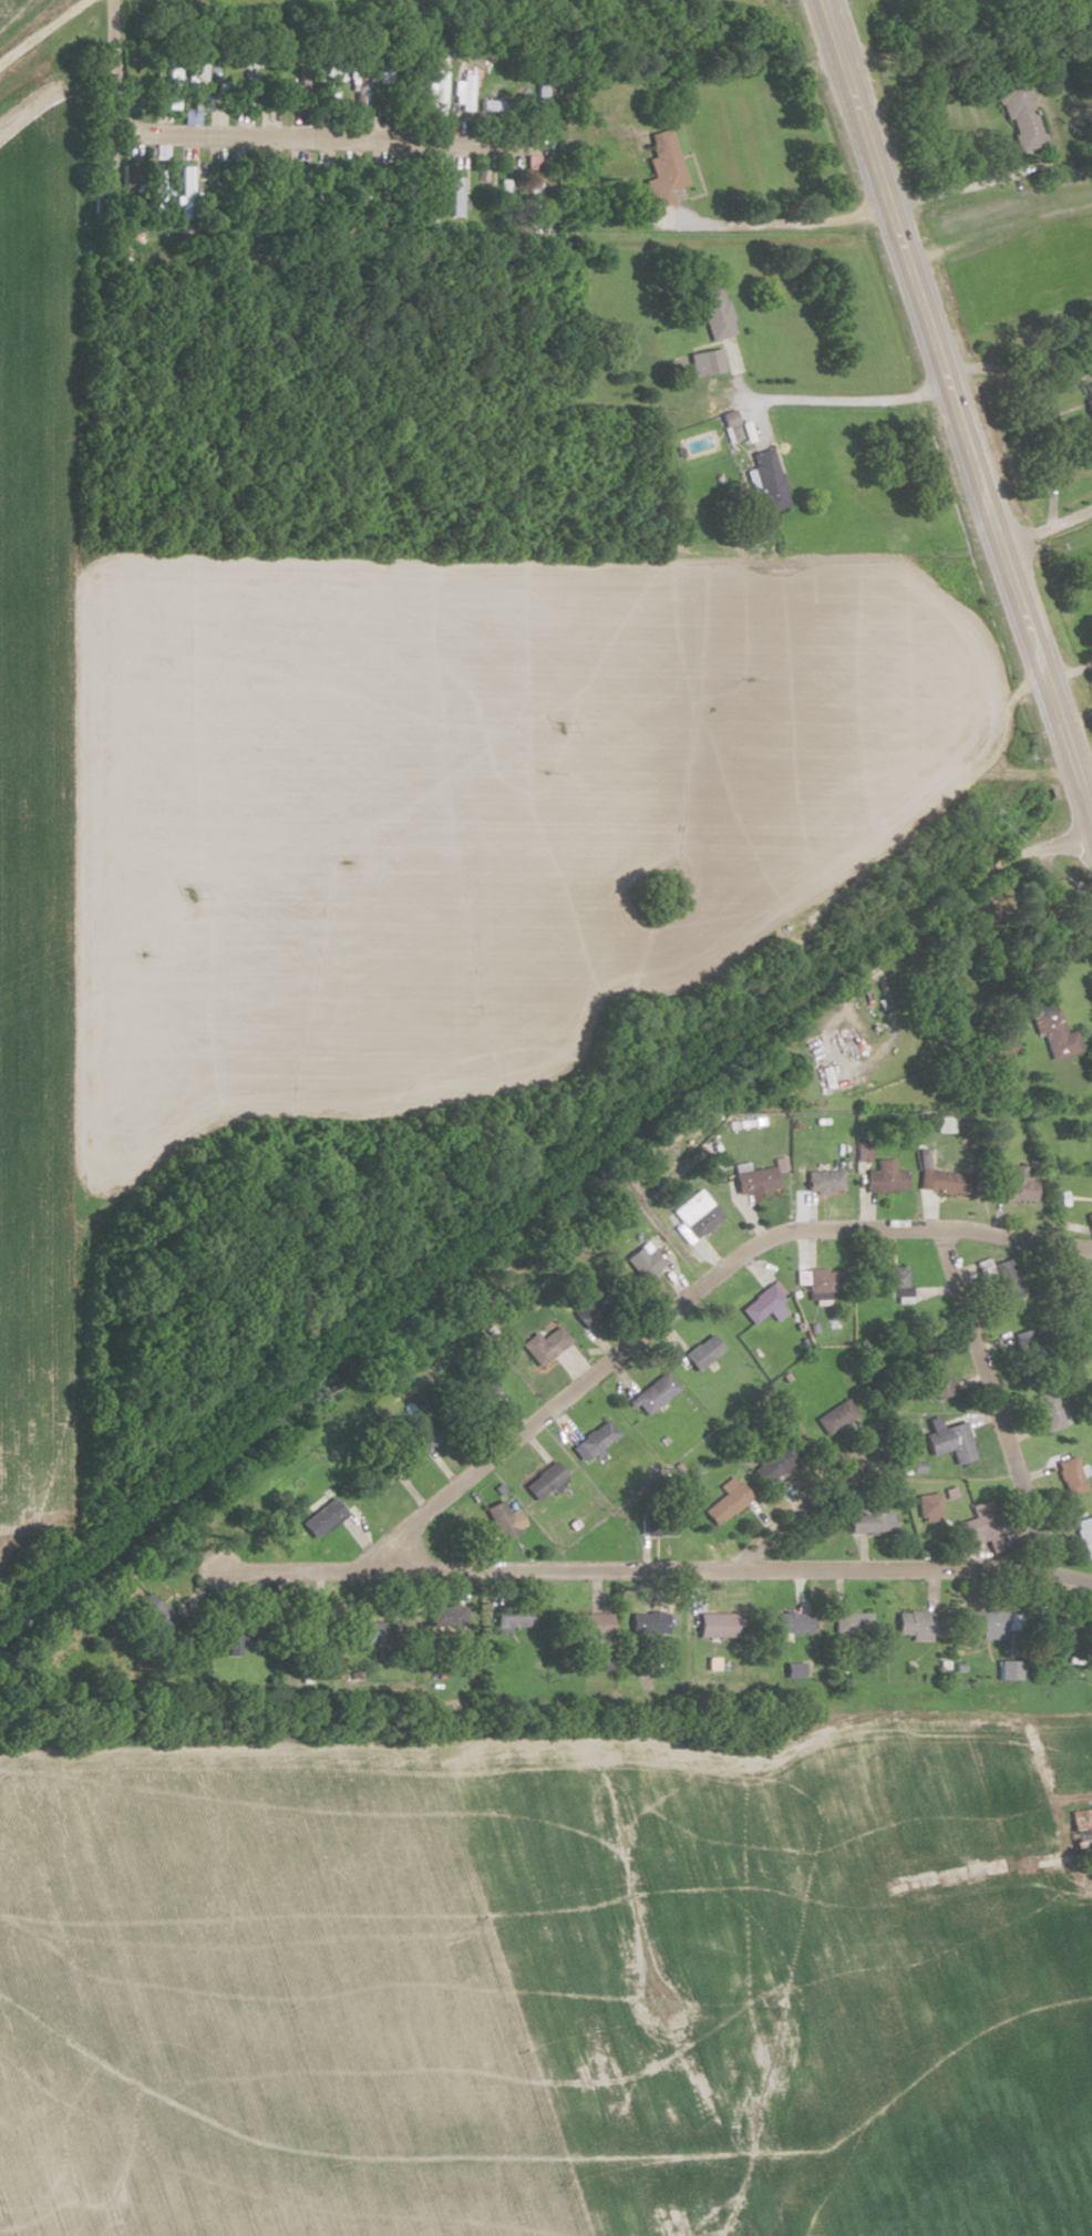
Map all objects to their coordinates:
road: (41, 31)
building: (306, 75)
building: (334, 79)
building: (199, 82)
building: (278, 83)
building: (173, 84)
building: (249, 86)
building: (414, 87)
building: (440, 87)
building: (542, 87)
building: (466, 91)
building: (504, 105)
building: (1019, 114)
building: (274, 117)
road: (264, 141)
building: (662, 166)
building: (128, 186)
building: (321, 186)
building: (157, 188)
building: (187, 188)
building: (216, 194)
building: (455, 196)
building: (429, 198)
building: (532, 203)
road: (739, 228)
road: (998, 231)
building: (719, 322)
building: (704, 361)
building: (1088, 398)
road: (844, 400)
road: (957, 415)
building: (768, 481)
road: (1049, 528)
road: (1069, 668)
road: (933, 814)
road: (1091, 823)
building: (1054, 1030)
building: (1000, 1048)
building: (884, 1177)
building: (823, 1179)
building: (753, 1181)
building: (945, 1182)
building: (1013, 1183)
building: (1091, 1196)
building: (699, 1219)
building: (642, 1260)
building: (823, 1279)
building: (1005, 1279)
building: (890, 1281)
road: (690, 1299)
building: (761, 1304)
building: (587, 1306)
building: (542, 1346)
building: (1028, 1346)
building: (701, 1351)
building: (937, 1375)
building: (478, 1389)
building: (652, 1392)
road: (990, 1402)
building: (1048, 1411)
building: (834, 1416)
building: (425, 1435)
building: (593, 1440)
building: (948, 1440)
building: (777, 1459)
building: (375, 1474)
building: (1069, 1475)
building: (543, 1481)
building: (724, 1501)
building: (323, 1512)
building: (497, 1519)
building: (870, 1519)
road: (792, 1521)
building: (659, 1523)
building: (979, 1527)
building: (1084, 1535)
road: (649, 1573)
building: (154, 1615)
building: (445, 1617)
building: (509, 1617)
building: (849, 1620)
building: (646, 1621)
building: (785, 1621)
building: (917, 1621)
building: (991, 1622)
building: (718, 1625)
building: (1050, 1626)
building: (588, 1627)
building: (372, 1632)
building: (235, 1639)
building: (790, 1668)
building: (1007, 1670)
building: (1081, 1831)
road: (1011, 1853)
road: (913, 2090)

